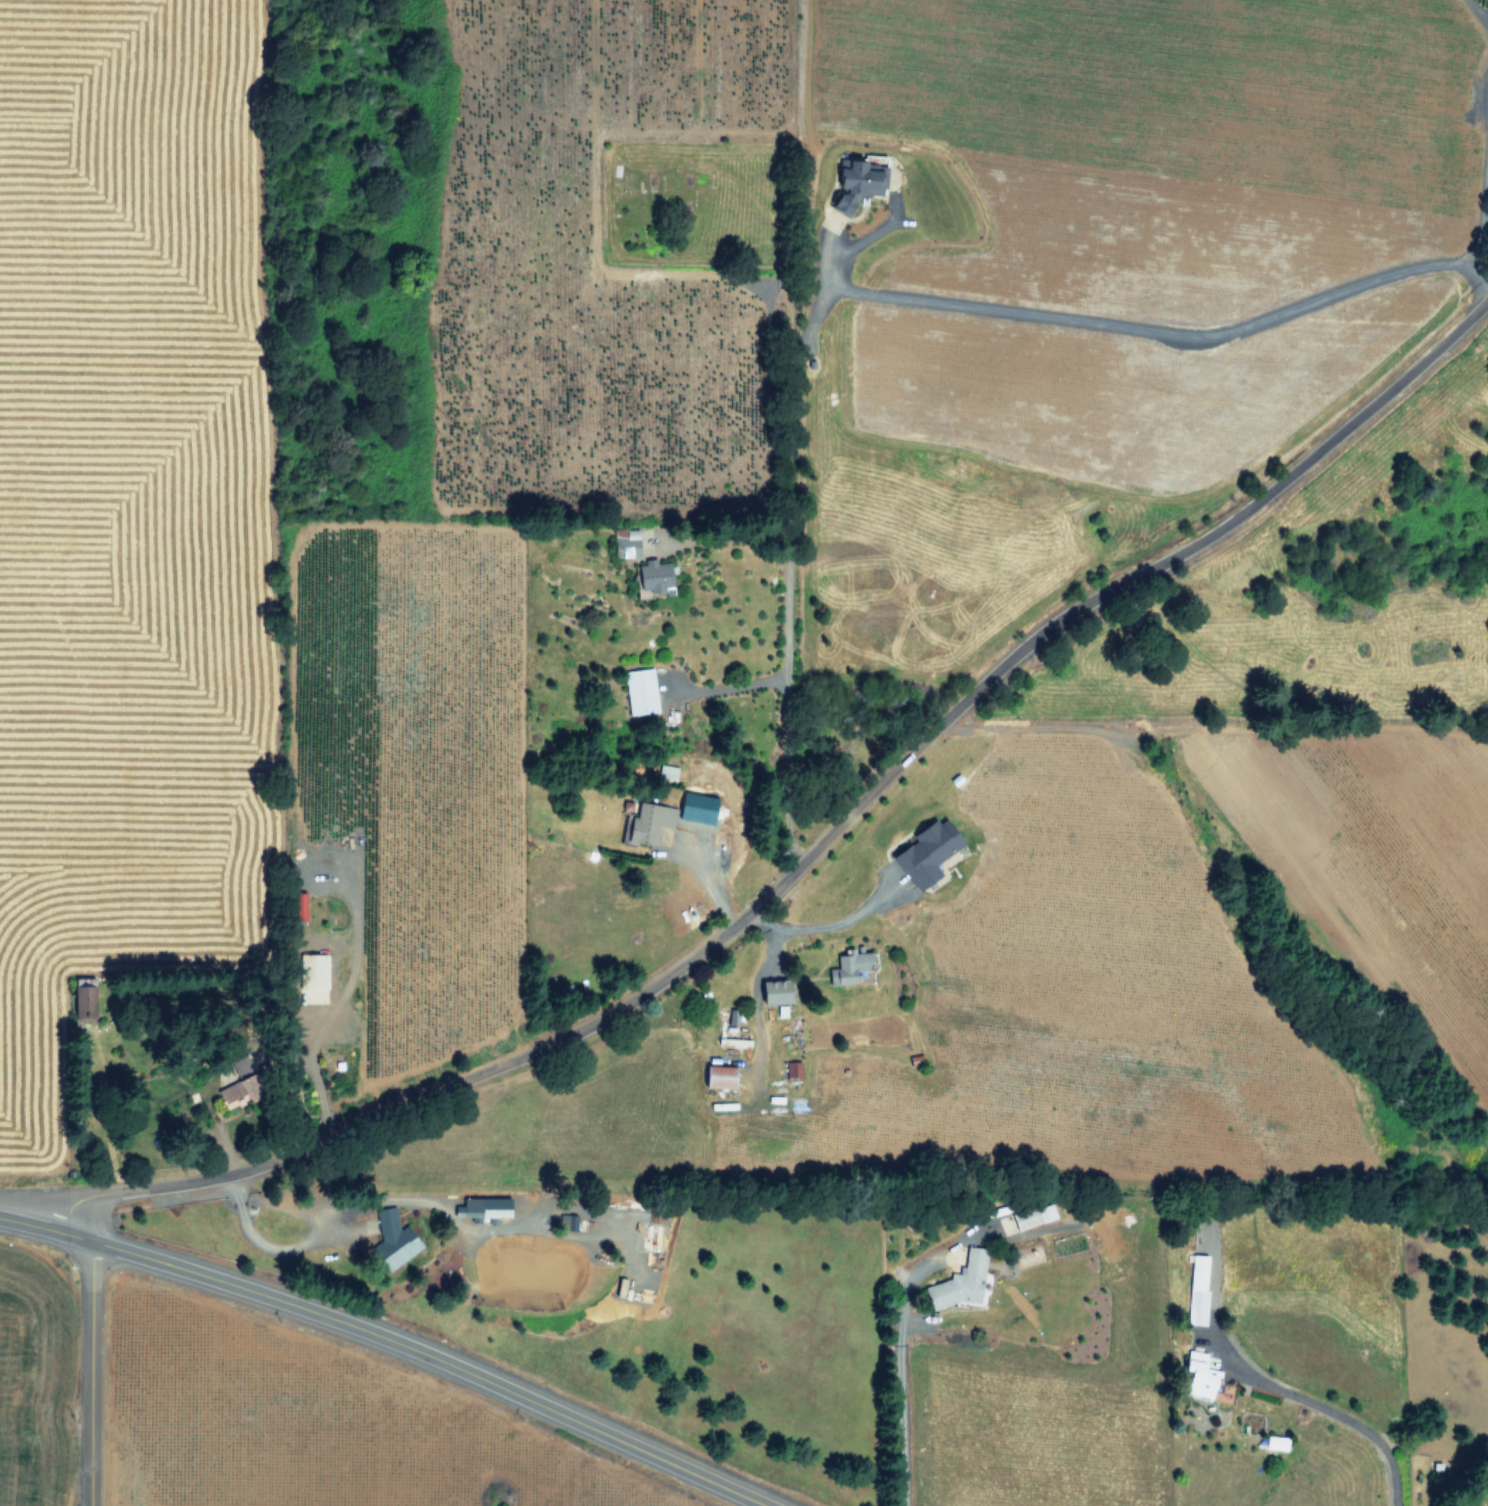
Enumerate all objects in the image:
road: (1479, 10)
park: (692, 201)
road: (1484, 209)
road: (1475, 285)
road: (1133, 327)
building: (629, 544)
building: (652, 576)
road: (789, 586)
road: (733, 684)
building: (640, 691)
building: (648, 822)
road: (817, 848)
building: (924, 851)
road: (842, 921)
building: (846, 967)
building: (772, 991)
road: (752, 1018)
building: (791, 1069)
building: (716, 1075)
building: (480, 1206)
building: (391, 1238)
road: (273, 1248)
building: (957, 1282)
road: (390, 1339)
road: (898, 1340)
road: (90, 1373)
building: (1225, 1393)
road: (1326, 1410)
crop: (214, 1424)

